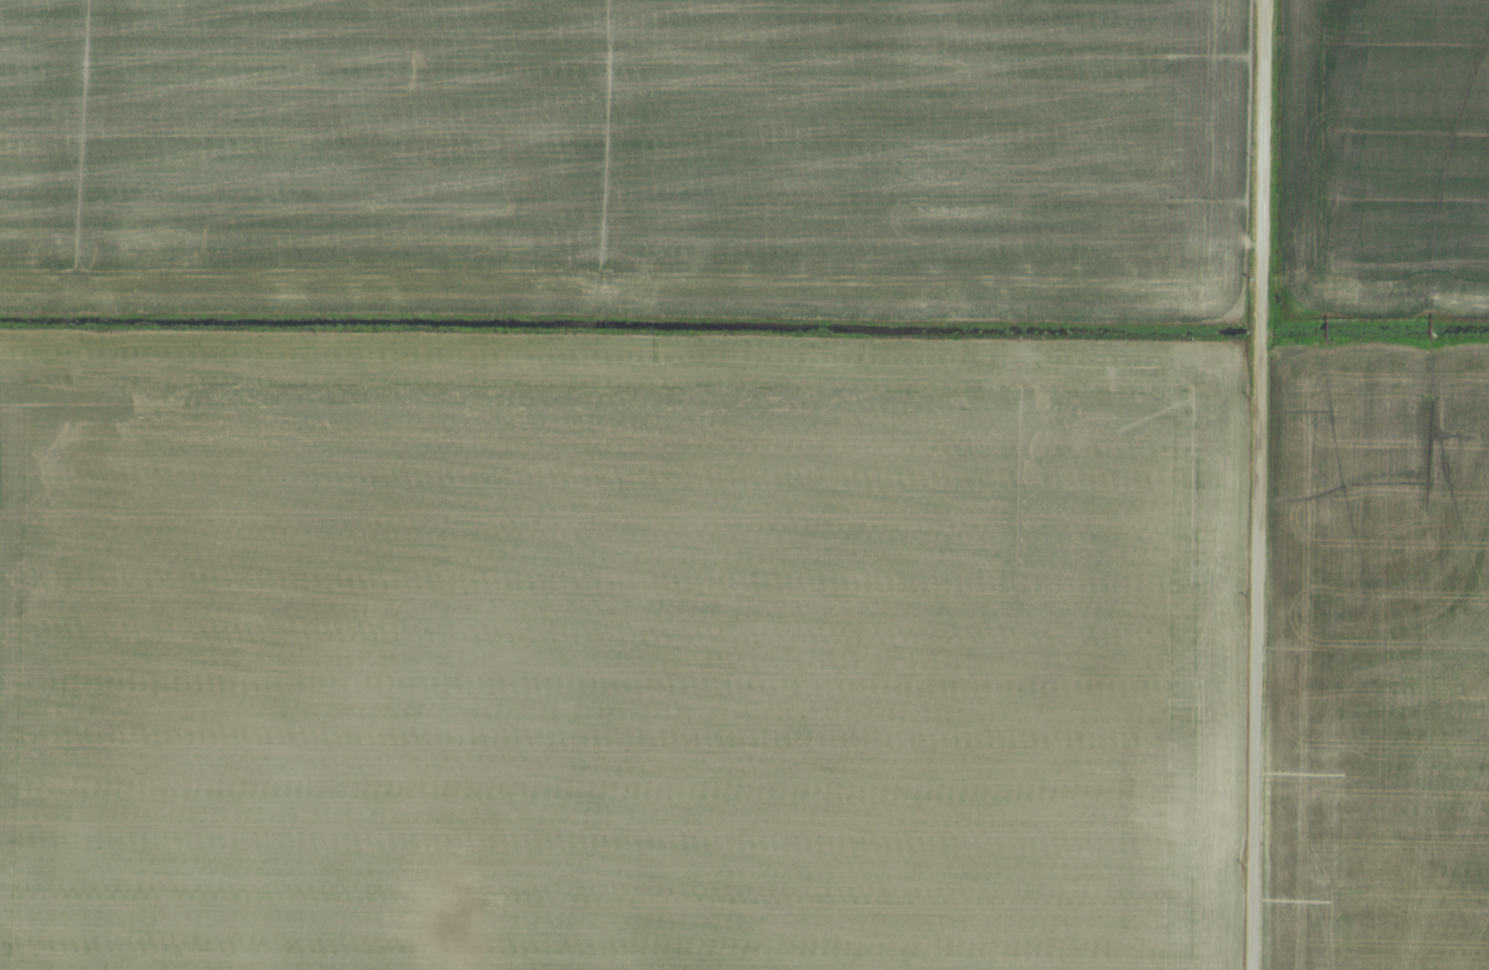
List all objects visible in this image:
road: (1250, 484)

